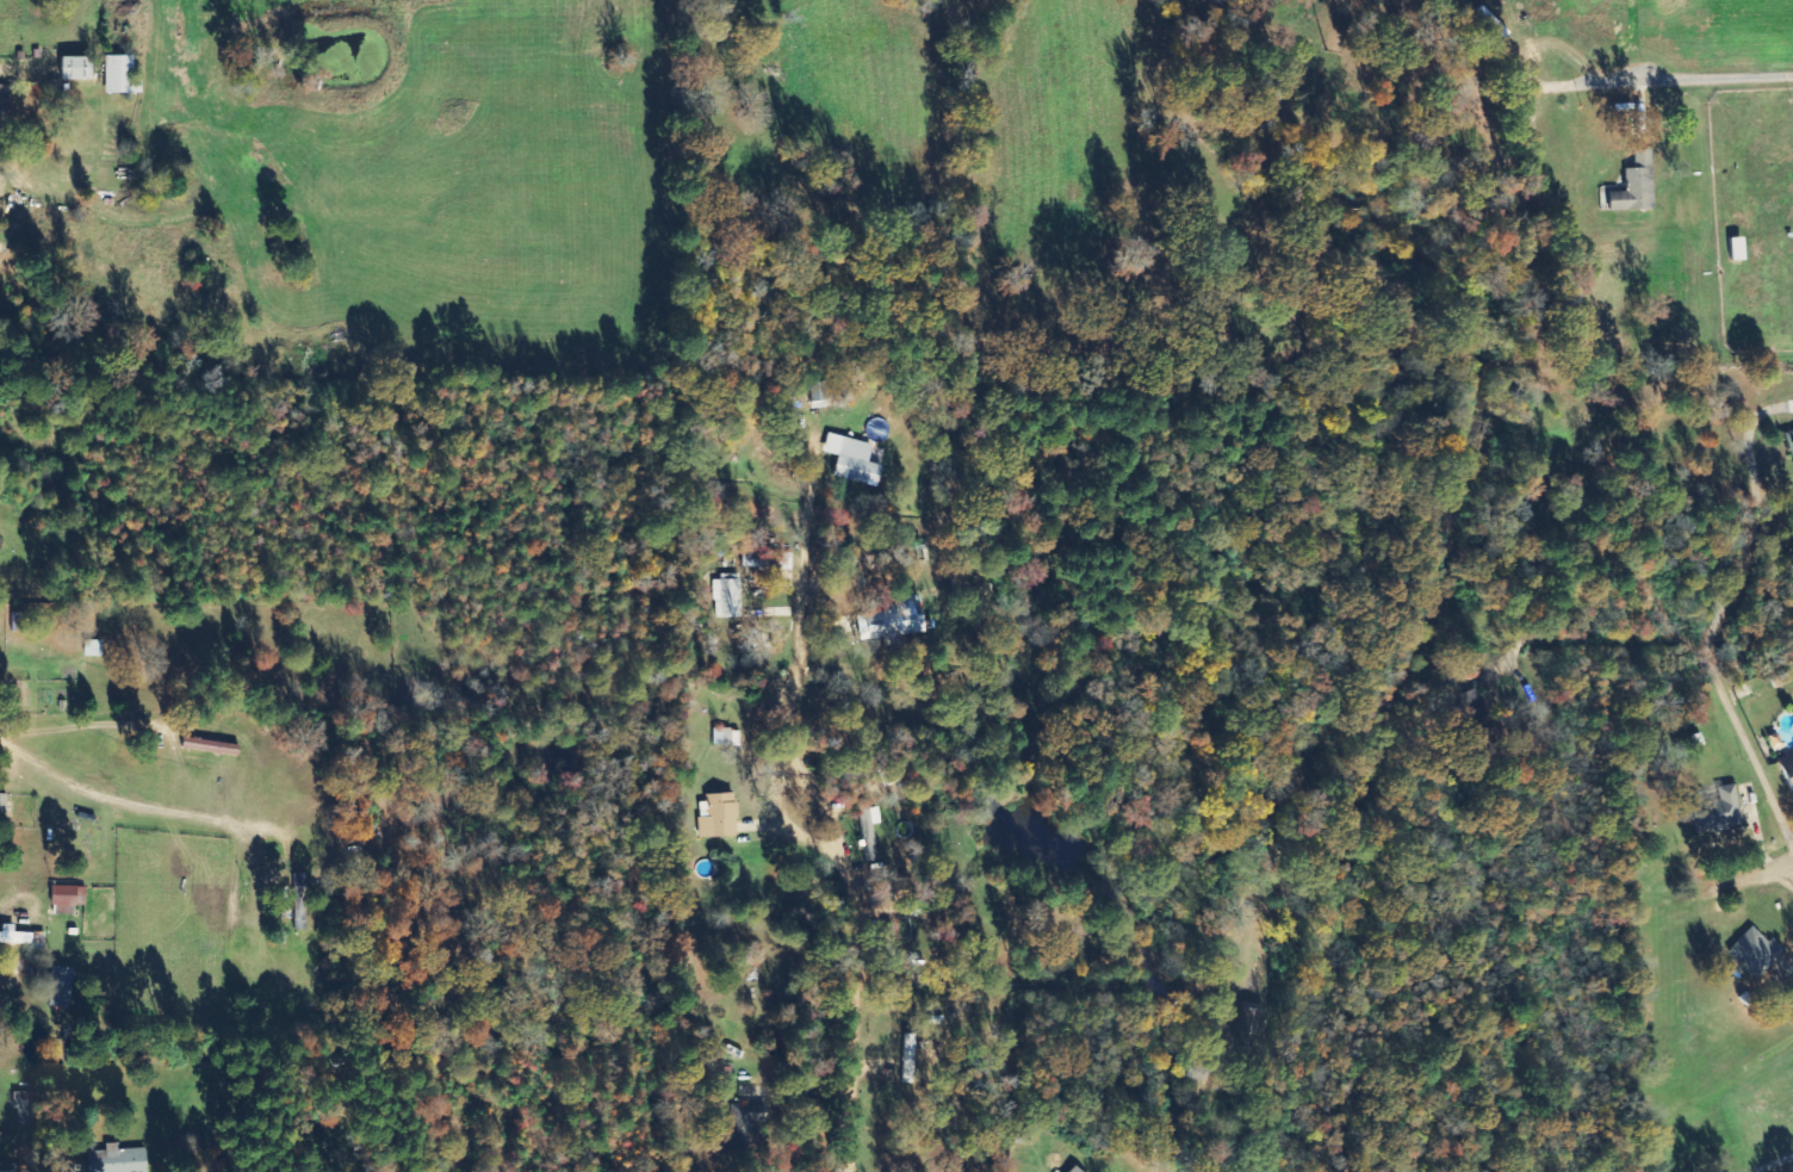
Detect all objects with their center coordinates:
building: (79, 69)
building: (120, 75)
building: (1, 110)
road: (284, 184)
building: (1638, 186)
building: (1789, 441)
building: (860, 463)
building: (756, 559)
building: (783, 560)
building: (730, 596)
building: (896, 621)
building: (19, 622)
building: (94, 649)
building: (727, 737)
building: (1785, 774)
road: (821, 776)
road: (134, 802)
building: (1713, 811)
building: (719, 816)
road: (1738, 882)
building: (68, 898)
building: (18, 936)
building: (1750, 953)
building: (63, 987)
road: (857, 1042)
road: (1230, 1053)
building: (911, 1059)
building: (27, 1108)
building: (753, 1130)
building: (118, 1160)
building: (1067, 1170)

